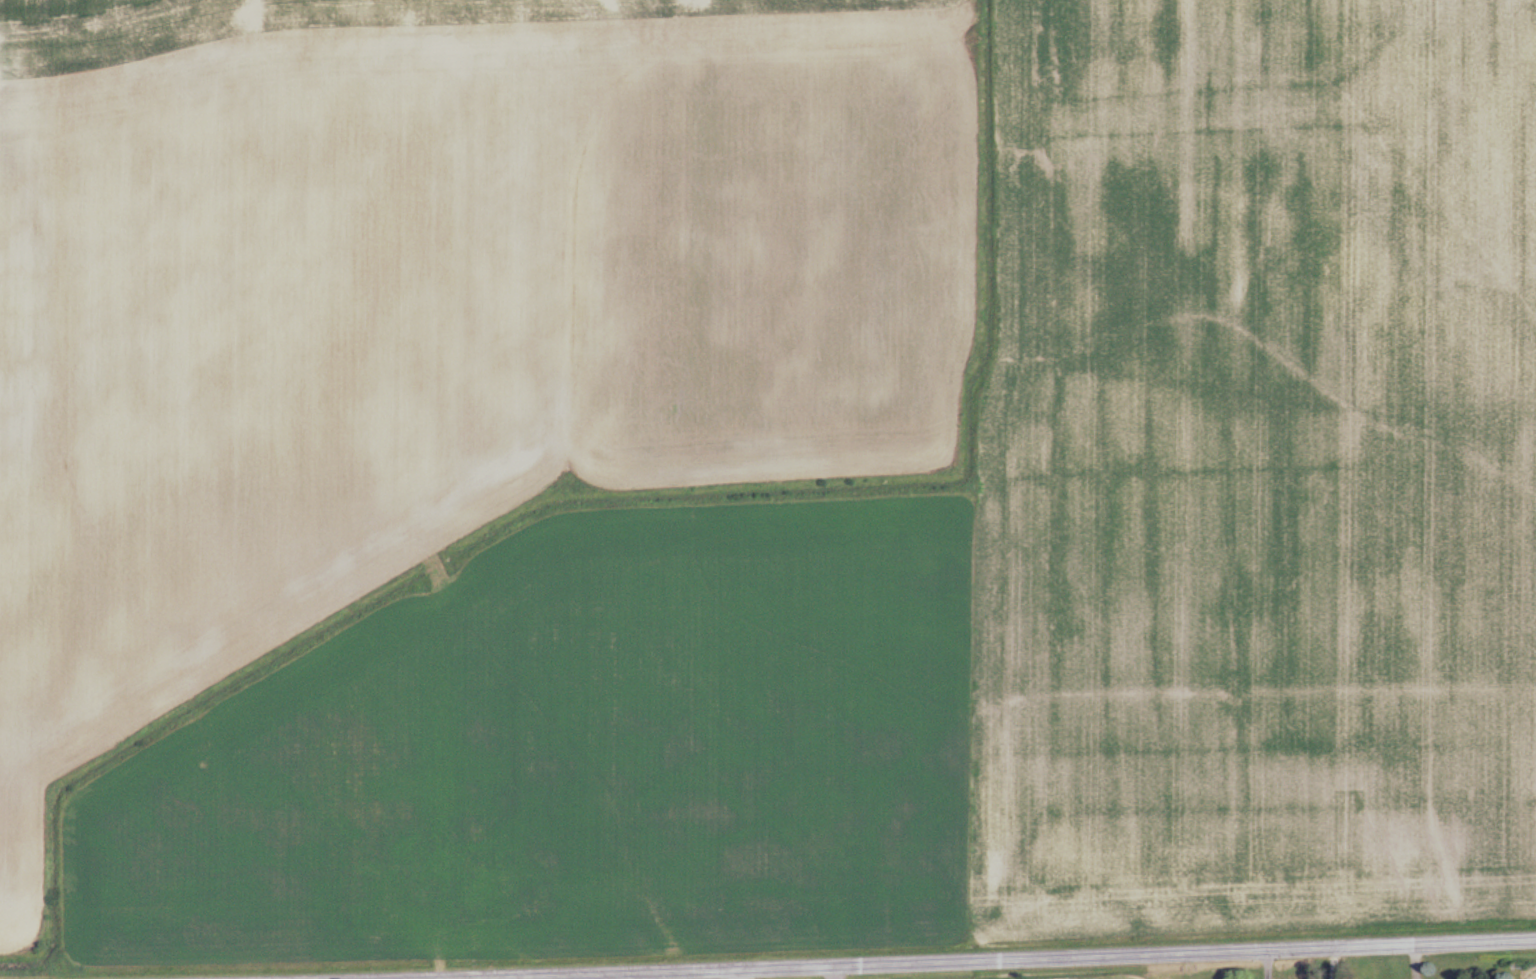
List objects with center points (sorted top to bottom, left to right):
road: (948, 959)
road: (733, 973)
road: (429, 978)

